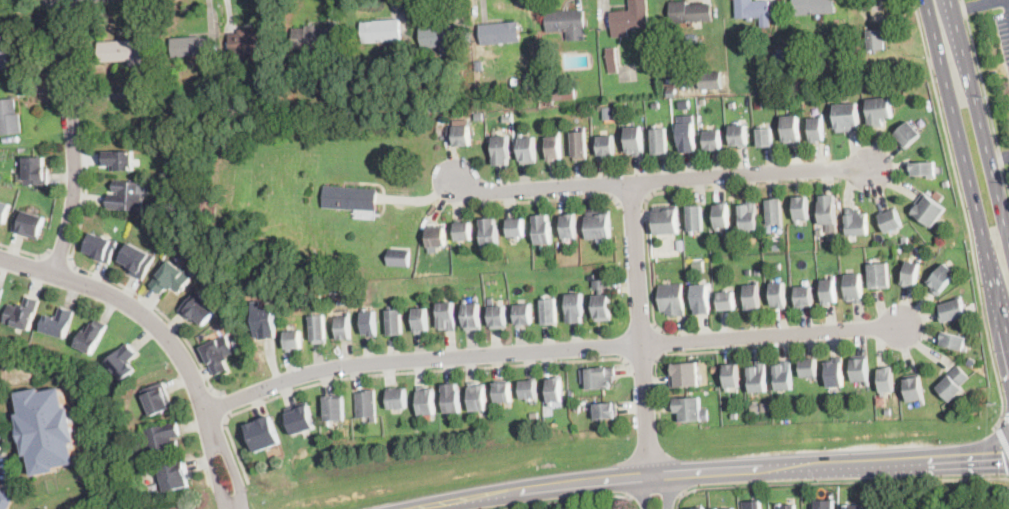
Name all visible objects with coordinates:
road: (1008, 1)
road: (977, 5)
building: (813, 6)
building: (754, 11)
building: (689, 12)
building: (630, 18)
building: (567, 22)
building: (381, 30)
building: (665, 31)
building: (500, 32)
building: (466, 34)
parking lot: (1003, 34)
building: (314, 37)
building: (441, 38)
building: (681, 39)
building: (876, 40)
building: (249, 42)
building: (7, 47)
building: (192, 47)
building: (121, 51)
building: (844, 53)
building: (332, 55)
building: (611, 59)
building: (778, 59)
building: (668, 61)
building: (479, 65)
building: (864, 77)
building: (671, 79)
building: (710, 79)
building: (528, 80)
building: (515, 81)
building: (243, 88)
building: (502, 90)
building: (670, 91)
building: (559, 94)
road: (985, 94)
building: (151, 95)
building: (214, 95)
building: (615, 97)
building: (701, 102)
building: (757, 103)
building: (655, 104)
building: (684, 104)
building: (731, 104)
building: (440, 105)
building: (878, 111)
building: (406, 112)
building: (481, 114)
building: (606, 114)
building: (9, 117)
building: (507, 117)
building: (846, 117)
building: (315, 119)
road: (979, 120)
building: (548, 121)
building: (816, 129)
building: (791, 130)
building: (459, 135)
building: (908, 135)
building: (738, 136)
building: (686, 137)
building: (764, 137)
road: (72, 139)
building: (712, 140)
building: (634, 141)
building: (660, 141)
building: (579, 146)
building: (606, 147)
building: (554, 148)
building: (526, 150)
building: (500, 151)
road: (998, 156)
building: (117, 160)
building: (924, 170)
road: (967, 170)
building: (35, 171)
building: (945, 178)
road: (659, 179)
road: (673, 191)
building: (937, 194)
building: (126, 196)
building: (350, 198)
road: (631, 199)
road: (537, 201)
building: (565, 206)
building: (205, 208)
building: (800, 209)
building: (928, 209)
building: (827, 210)
building: (4, 211)
building: (774, 212)
road: (965, 213)
building: (721, 216)
building: (748, 216)
building: (695, 218)
building: (666, 220)
building: (891, 220)
building: (856, 222)
building: (28, 224)
building: (598, 225)
building: (515, 227)
building: (568, 227)
building: (542, 230)
building: (819, 230)
building: (463, 231)
building: (489, 233)
building: (436, 237)
building: (905, 240)
building: (100, 247)
building: (449, 247)
building: (681, 250)
road: (26, 251)
road: (59, 256)
building: (399, 257)
building: (137, 261)
building: (777, 265)
building: (698, 266)
building: (314, 271)
building: (747, 271)
building: (756, 272)
building: (911, 273)
building: (879, 276)
building: (171, 278)
building: (942, 279)
road: (110, 280)
building: (854, 288)
building: (0, 291)
building: (828, 291)
building: (779, 294)
building: (752, 296)
building: (343, 297)
building: (804, 297)
building: (672, 299)
building: (701, 299)
building: (726, 301)
building: (490, 302)
building: (600, 302)
building: (574, 308)
building: (198, 309)
building: (953, 310)
road: (138, 311)
building: (549, 311)
building: (22, 313)
building: (524, 315)
building: (447, 317)
building: (472, 317)
building: (498, 317)
building: (421, 320)
building: (394, 322)
building: (58, 323)
building: (264, 323)
building: (368, 324)
building: (344, 328)
road: (642, 328)
building: (318, 329)
building: (91, 337)
building: (292, 340)
road: (661, 341)
building: (952, 341)
road: (550, 350)
road: (726, 350)
building: (217, 355)
building: (971, 361)
building: (123, 362)
road: (641, 363)
building: (808, 368)
building: (860, 369)
building: (834, 373)
road: (392, 374)
building: (684, 376)
building: (731, 376)
building: (783, 377)
building: (600, 378)
building: (757, 378)
building: (886, 380)
building: (953, 383)
building: (914, 389)
building: (529, 390)
building: (555, 391)
building: (572, 391)
building: (503, 392)
building: (477, 397)
building: (452, 398)
building: (157, 399)
building: (398, 399)
building: (426, 400)
road: (225, 404)
building: (367, 405)
building: (578, 406)
building: (755, 406)
building: (765, 406)
building: (335, 409)
building: (687, 409)
building: (888, 410)
building: (606, 412)
building: (734, 414)
road: (1005, 416)
building: (299, 418)
building: (780, 419)
building: (574, 426)
building: (46, 429)
building: (263, 434)
building: (162, 440)
road: (1002, 440)
traffic signals: (1001, 457)
road: (233, 470)
road: (711, 472)
road: (215, 473)
building: (174, 476)
road: (837, 482)
road: (665, 490)
road: (645, 491)
building: (154, 494)
road: (657, 494)
building: (5, 499)
road: (570, 500)
building: (753, 502)
building: (825, 504)
building: (786, 506)
building: (854, 507)
building: (696, 508)
building: (724, 508)

